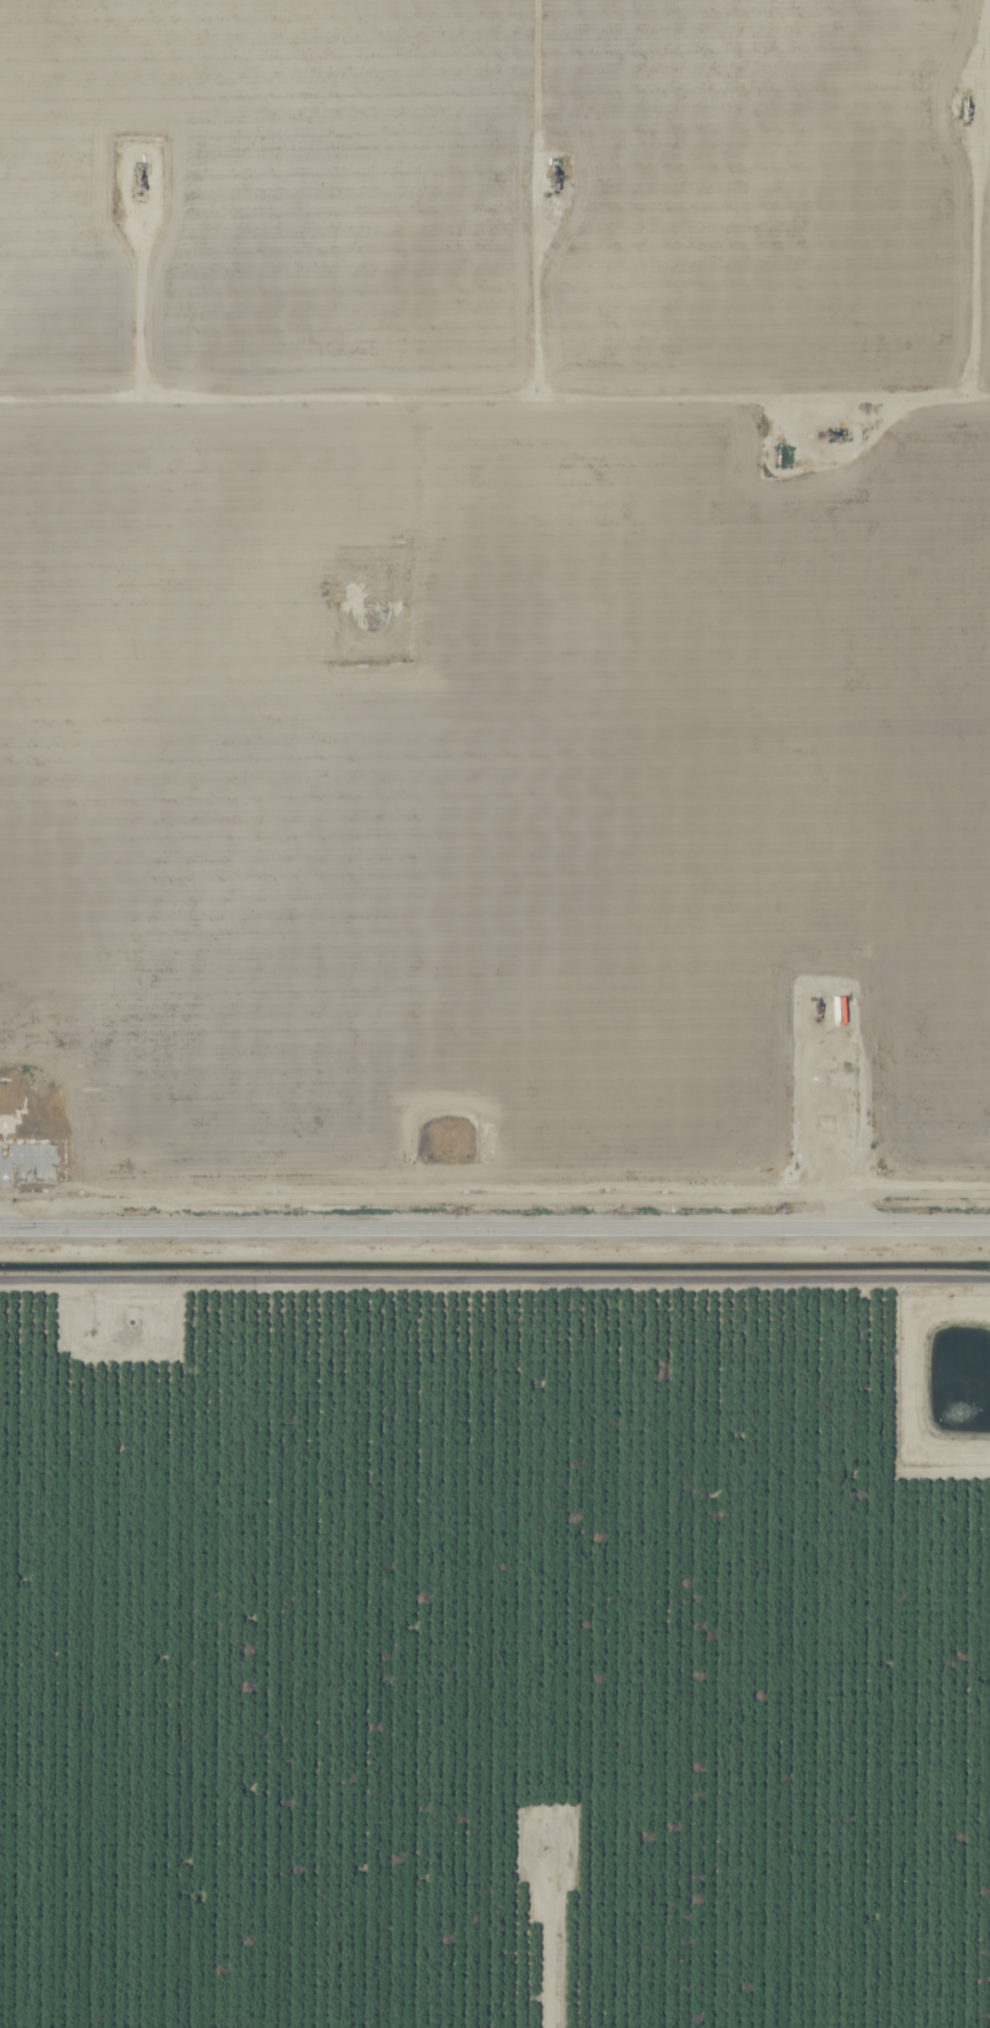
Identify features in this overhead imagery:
petroleum well: (554, 173)
petroleum well: (136, 174)
petroleum well: (827, 432)
road: (495, 1228)

